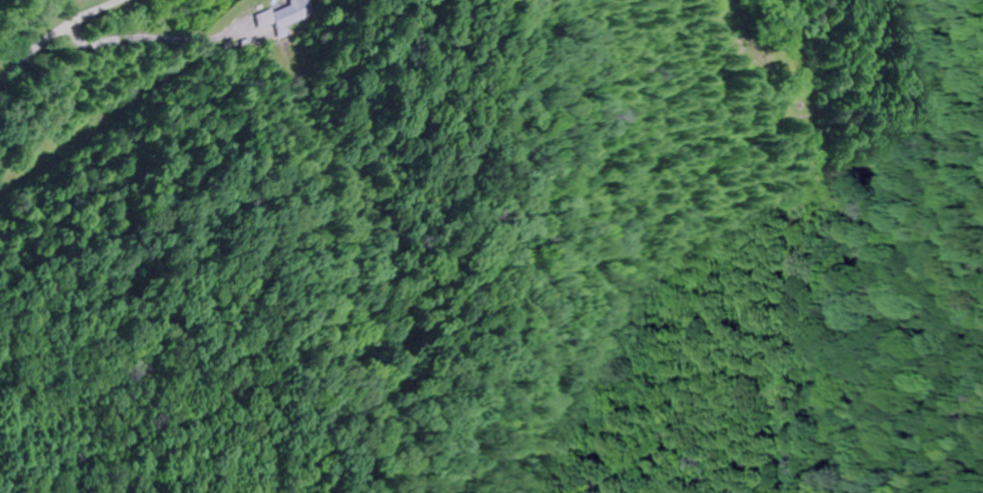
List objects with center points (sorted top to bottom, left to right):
road: (11, 9)
building: (293, 14)

